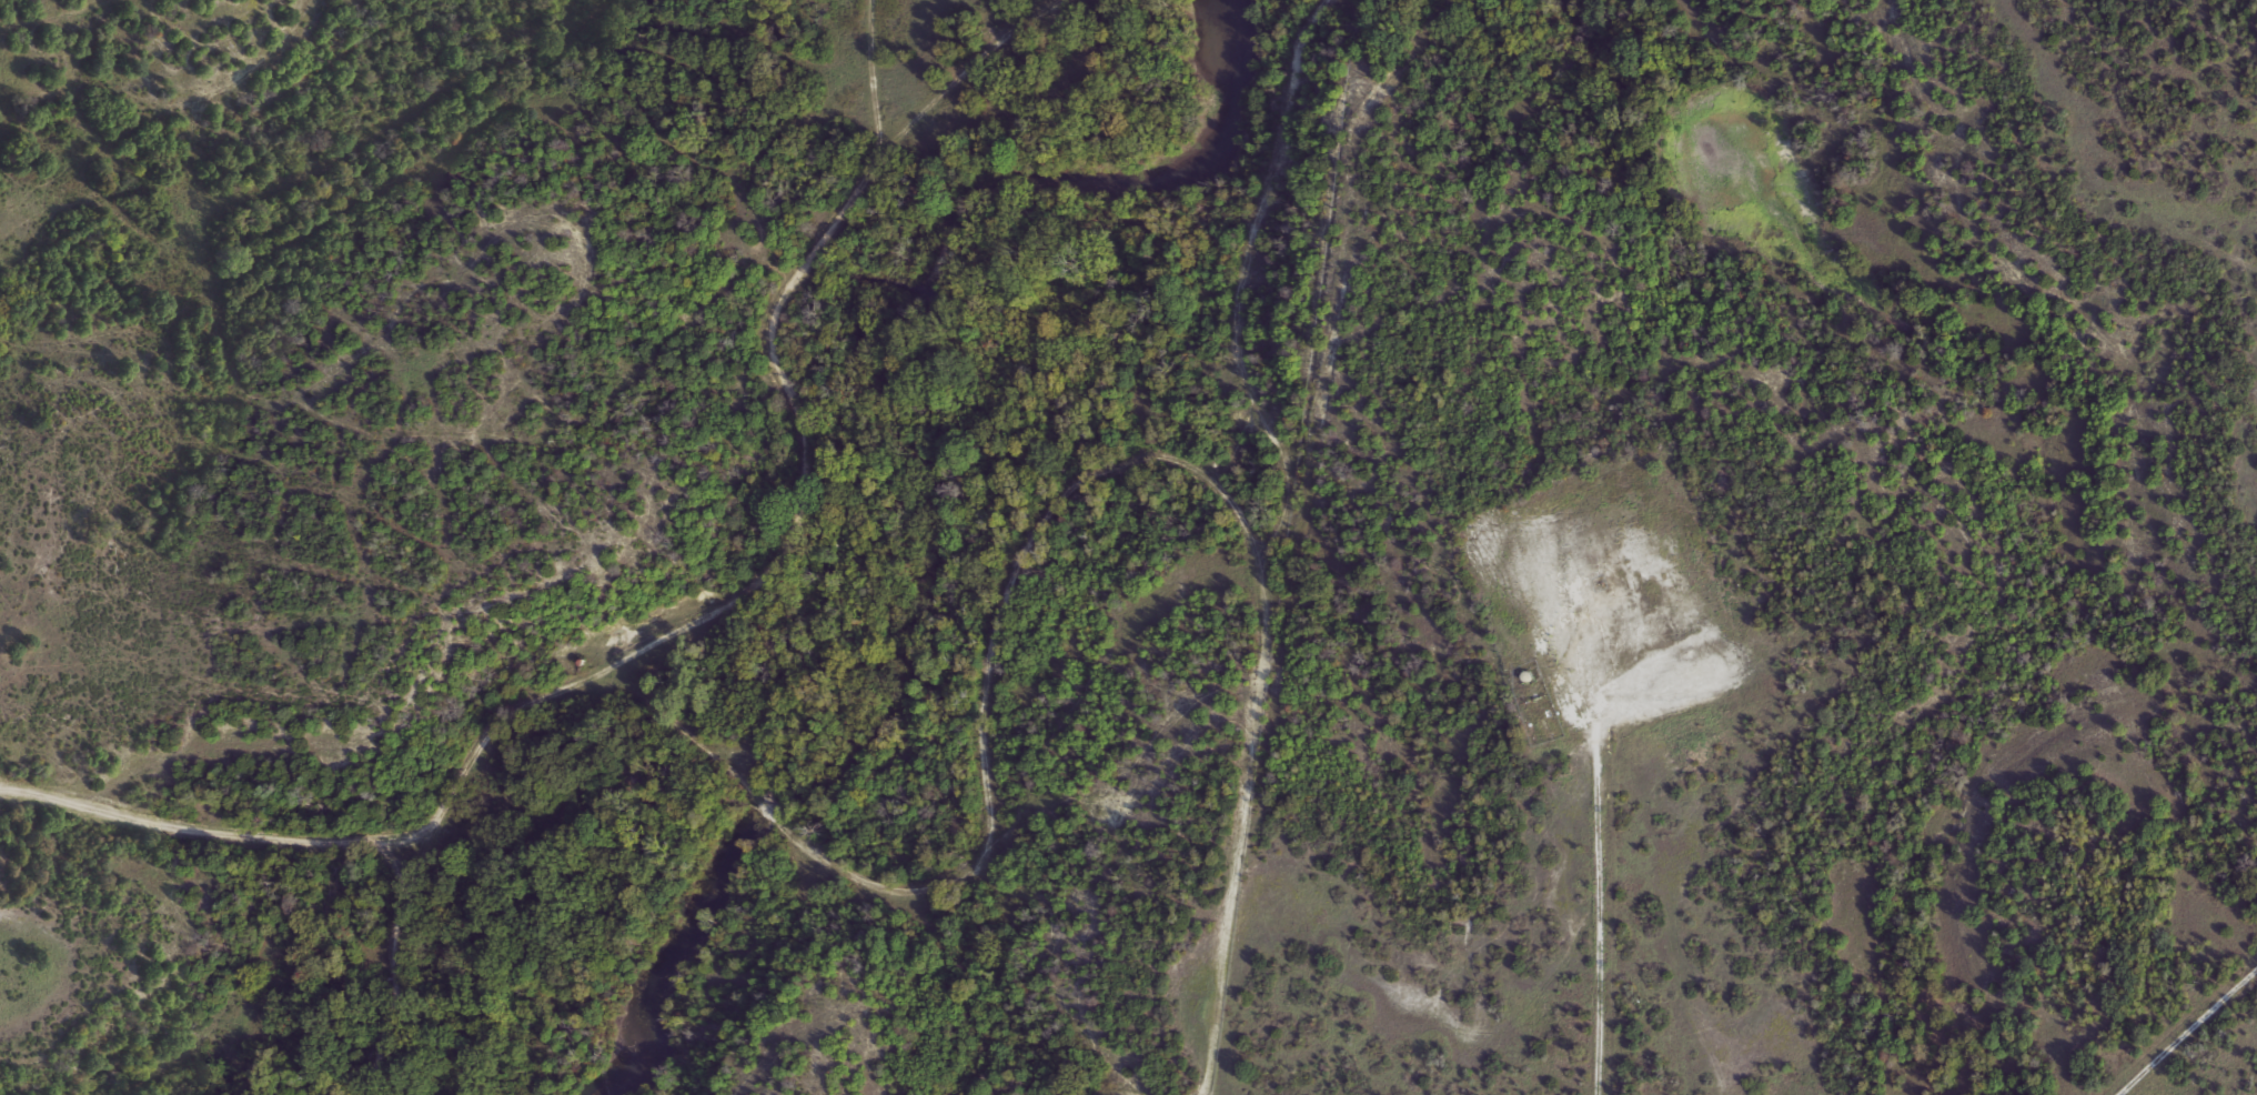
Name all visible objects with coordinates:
road: (964, 74)
road: (1968, 99)
road: (725, 599)
road: (208, 831)
road: (394, 861)

